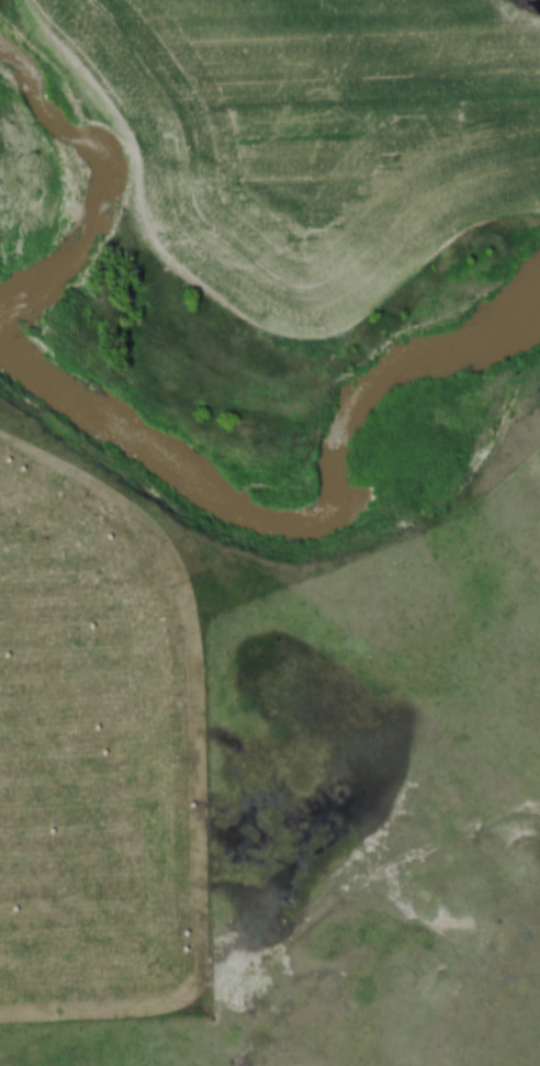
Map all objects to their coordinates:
river: (100, 166)
river: (303, 510)

